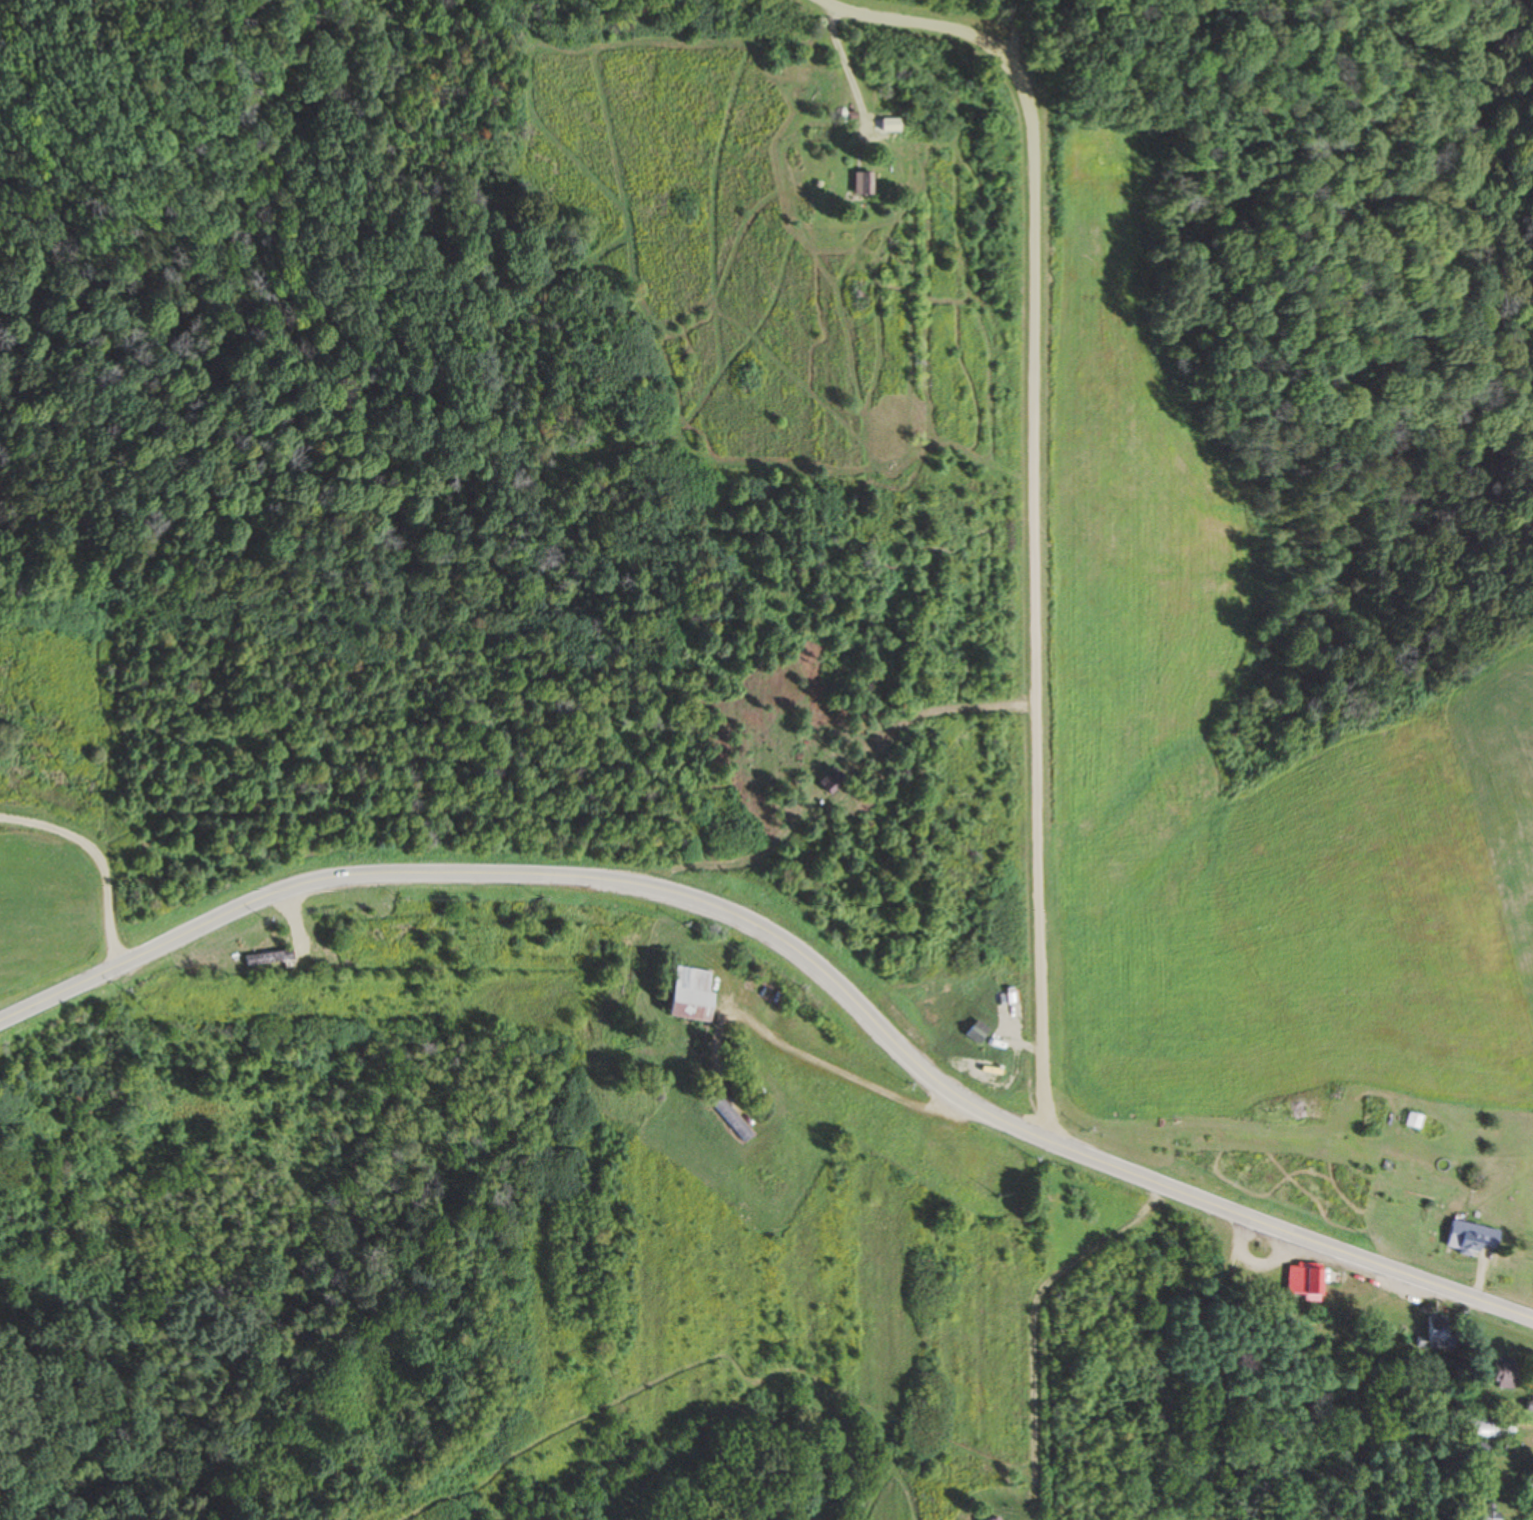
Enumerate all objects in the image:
building: (890, 124)
building: (864, 183)
road: (1061, 543)
building: (831, 782)
road: (96, 860)
road: (791, 951)
building: (691, 995)
building: (977, 1033)
building: (732, 1119)
building: (1413, 1122)
building: (1472, 1238)
building: (1304, 1282)
building: (1438, 1334)
building: (1504, 1374)
building: (1530, 1404)
building: (1494, 1430)
building: (1528, 1490)
building: (1487, 1512)

